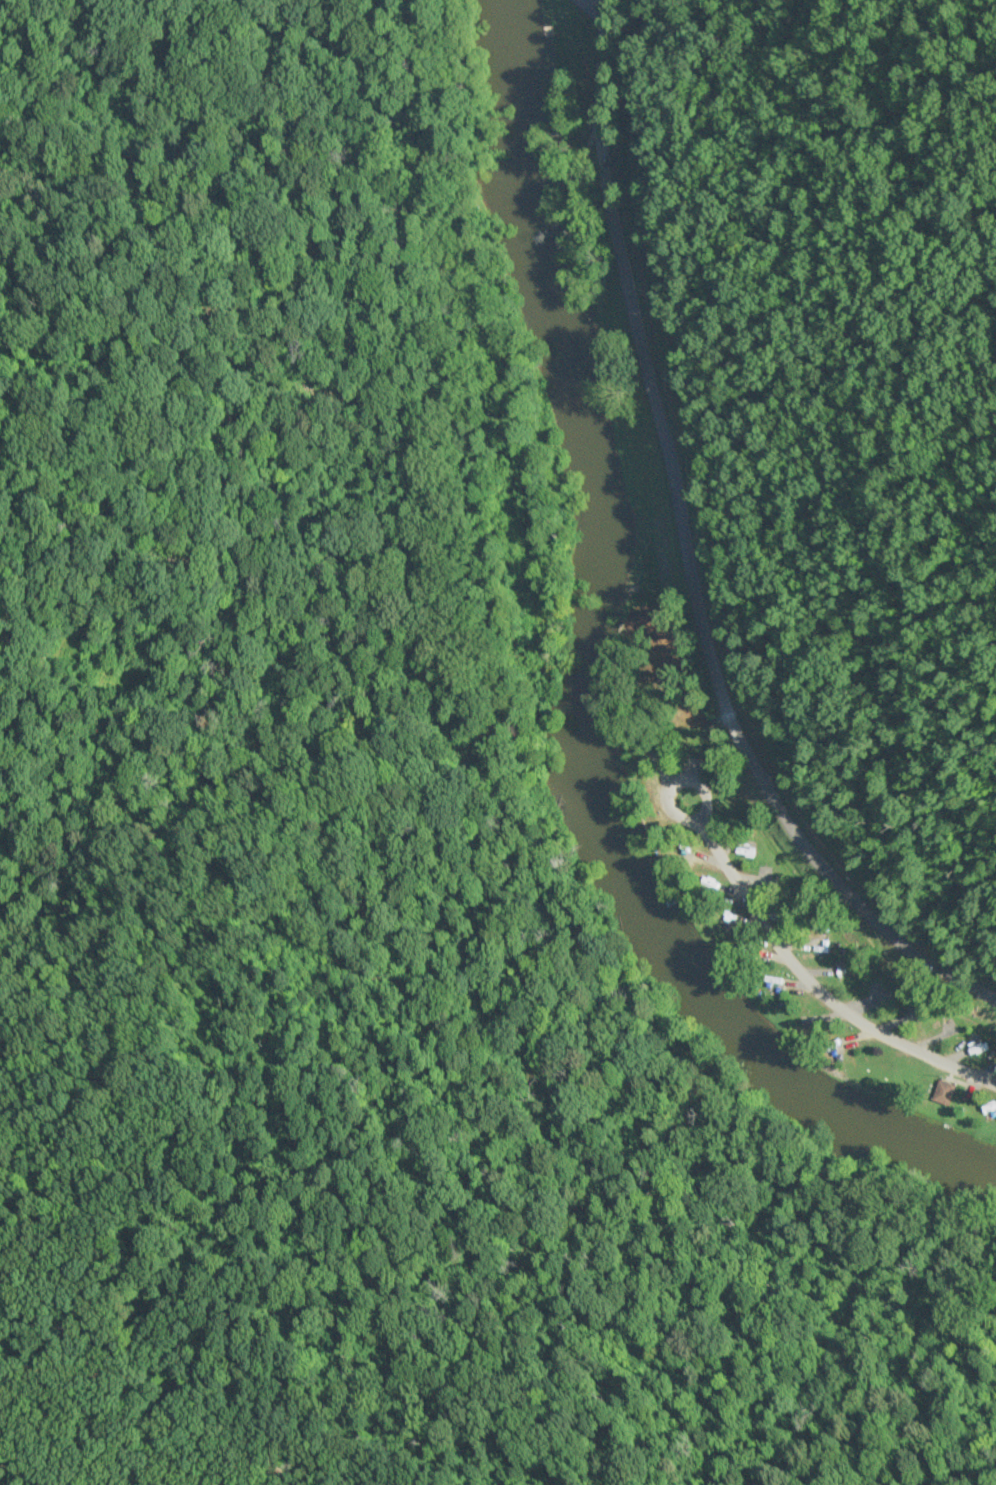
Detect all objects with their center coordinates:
road: (594, 5)
road: (687, 558)
river: (575, 681)
road: (809, 977)

